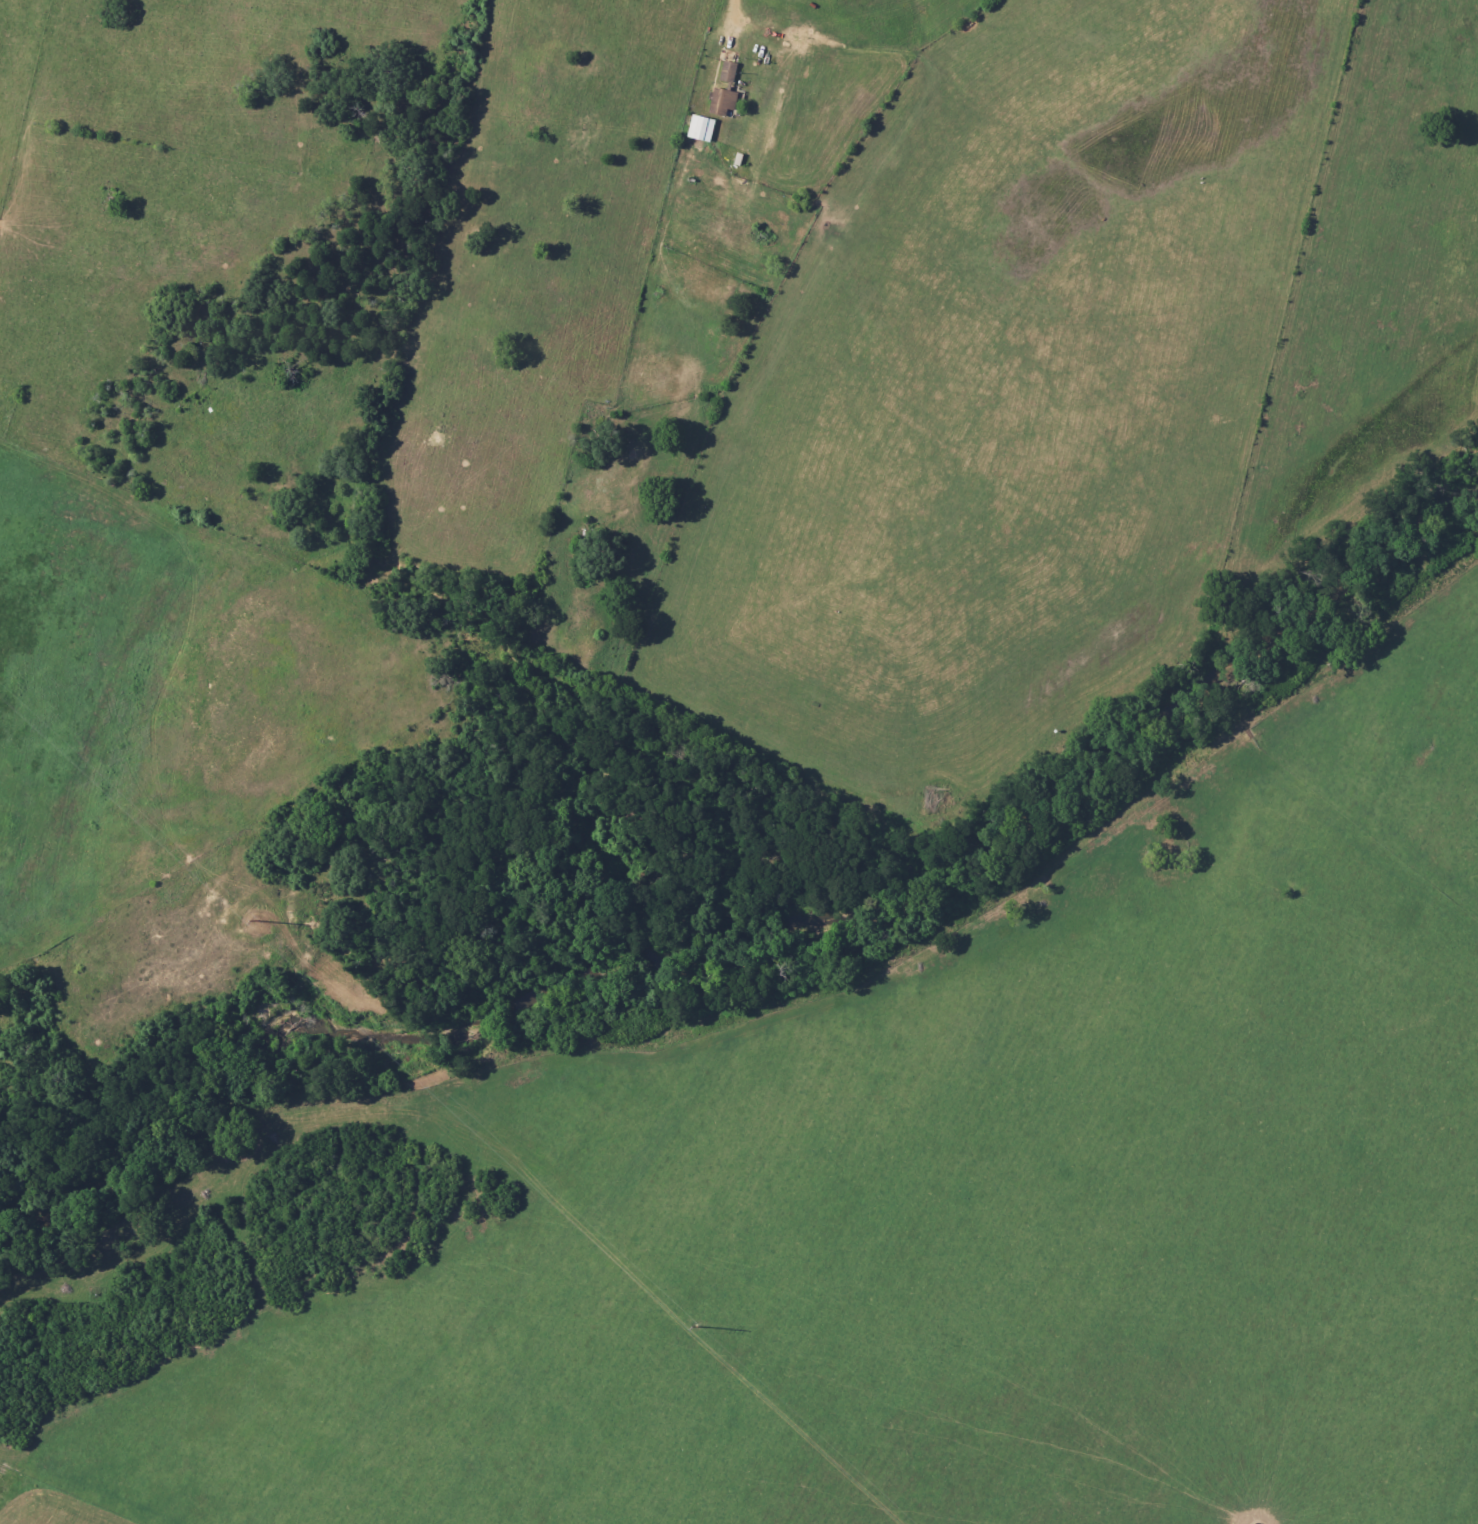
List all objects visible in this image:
building: (723, 69)
building: (717, 99)
building: (697, 126)
road: (669, 219)
power tower: (260, 923)
power tower: (693, 1323)

